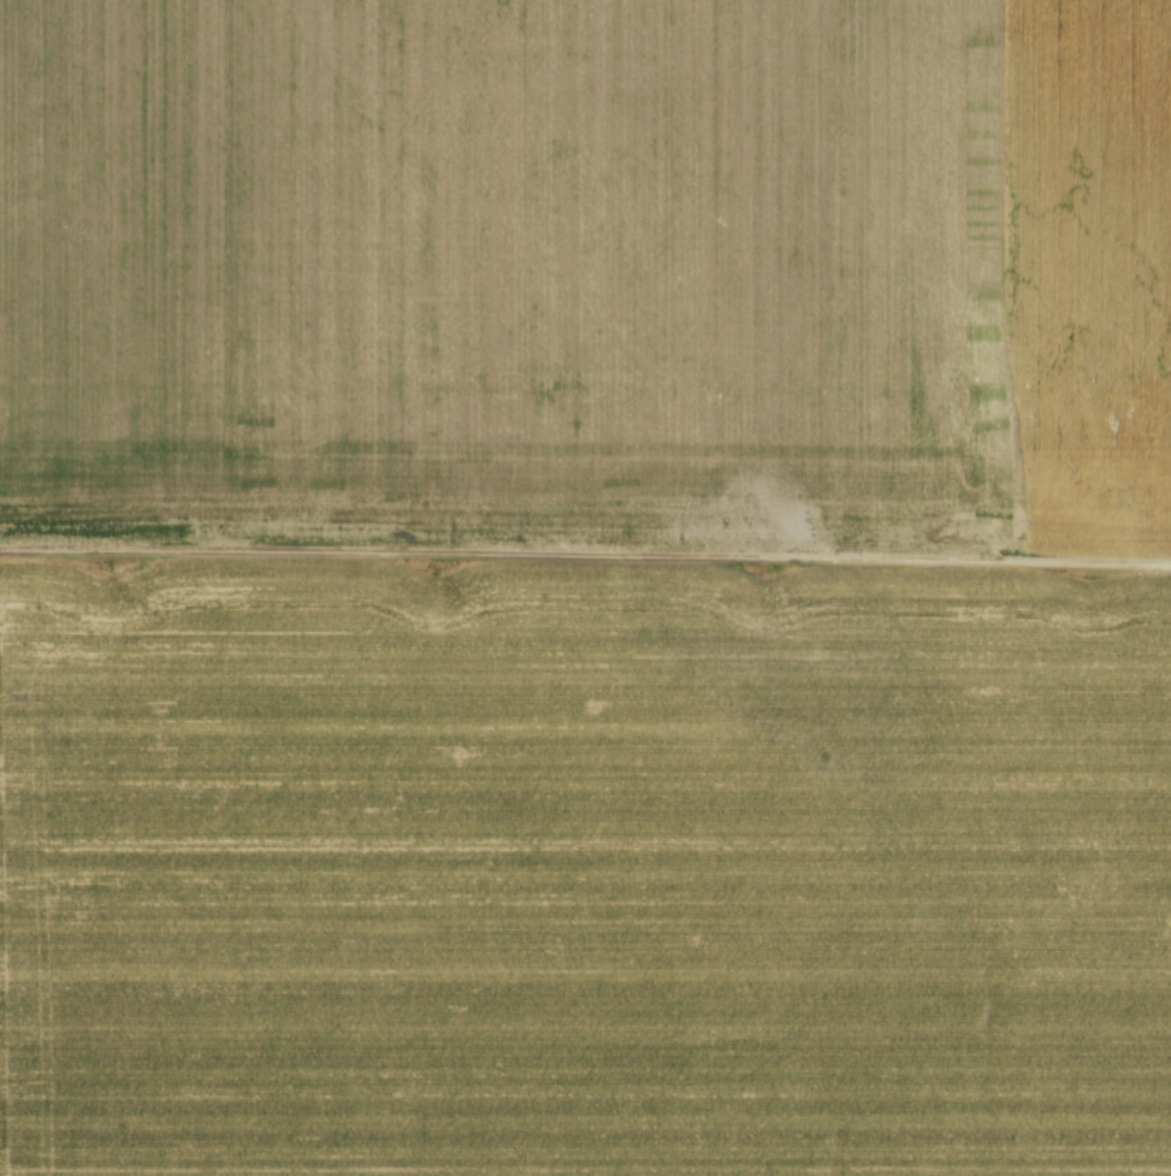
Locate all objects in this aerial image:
crop: (587, 266)
road: (585, 552)
crop: (584, 870)

